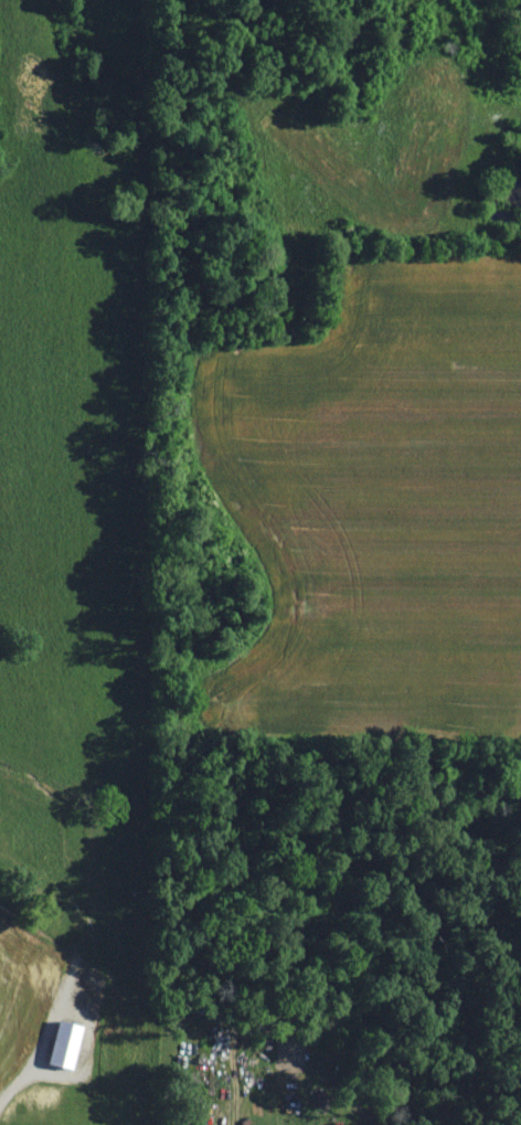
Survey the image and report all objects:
building: (68, 1046)
road: (89, 1049)

